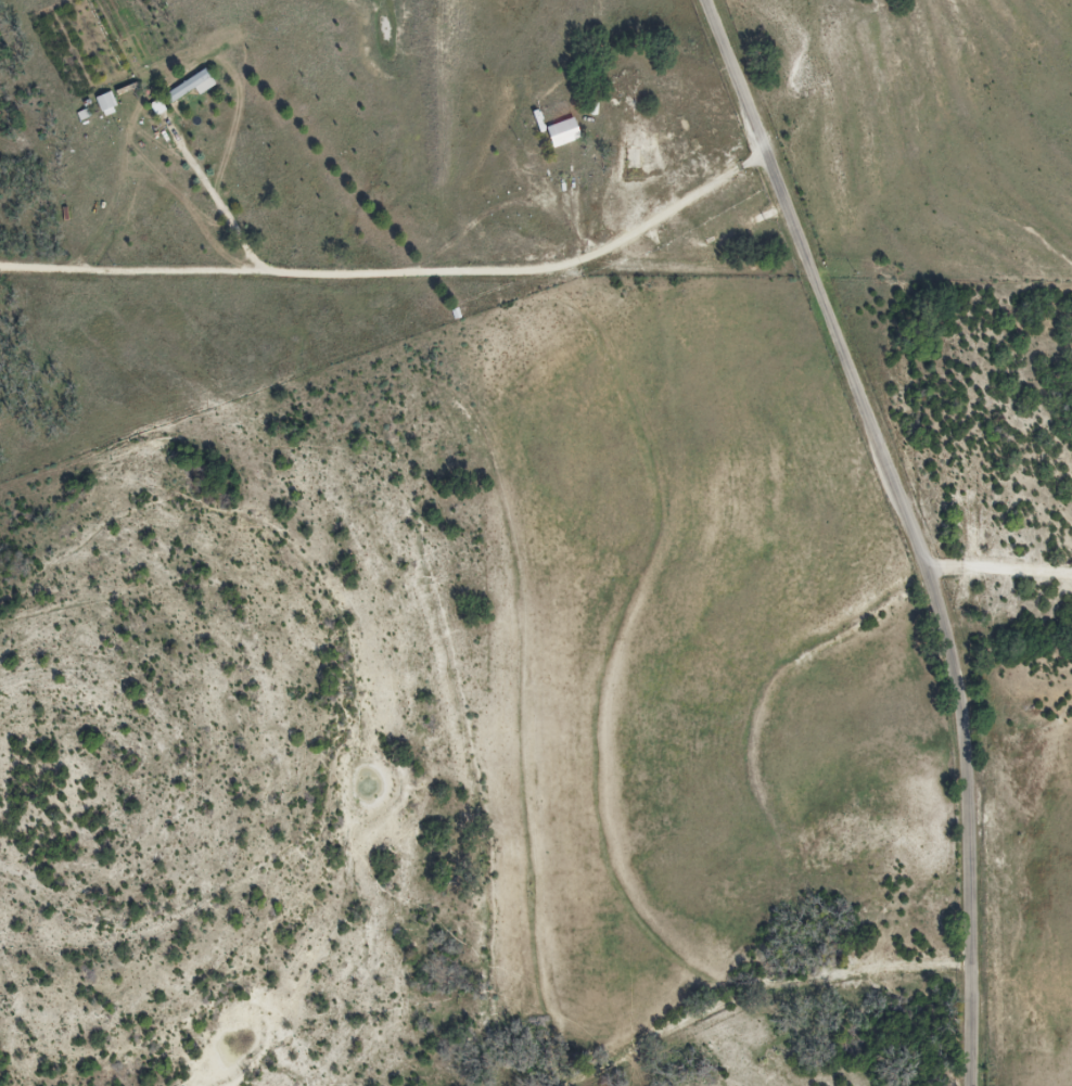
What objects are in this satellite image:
building: (189, 87)
building: (563, 132)
road: (224, 202)
road: (674, 208)
road: (290, 273)
road: (911, 527)
road: (995, 545)
road: (754, 988)

